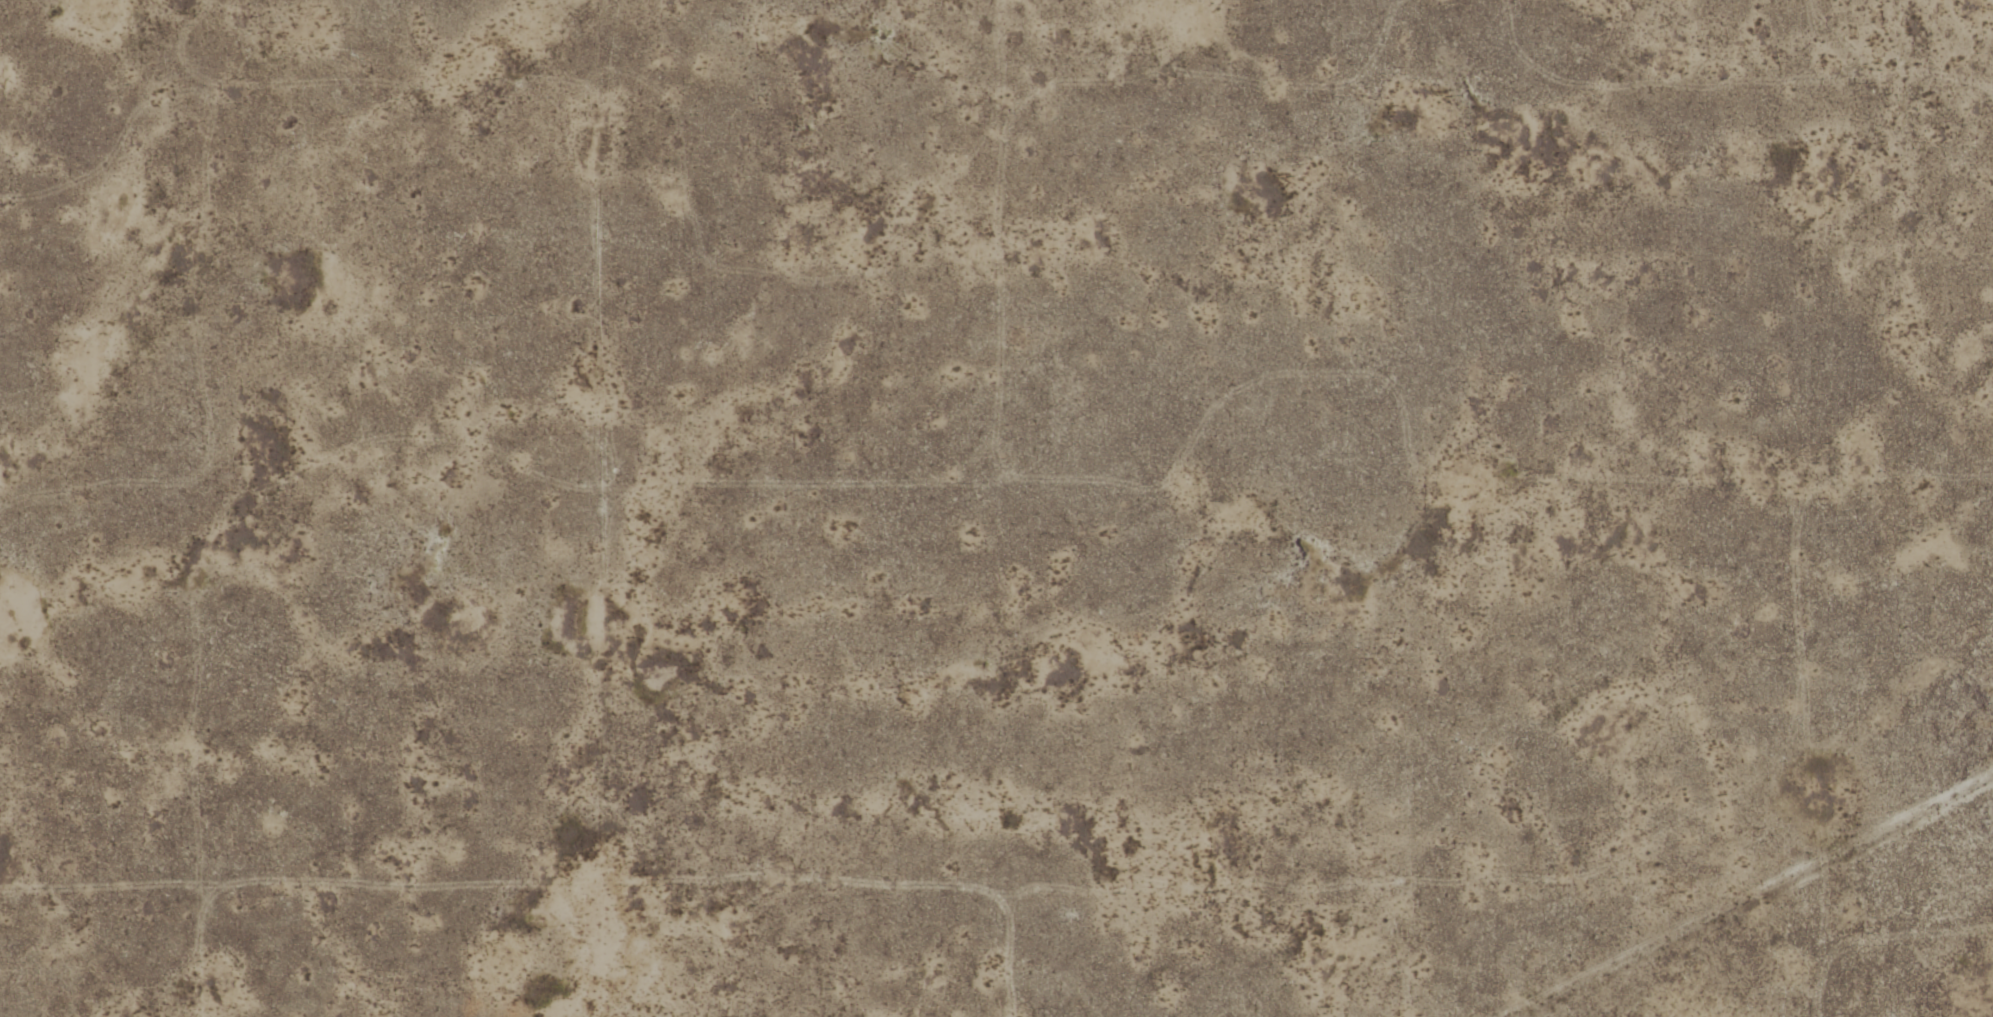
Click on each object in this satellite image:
road: (1874, 47)

